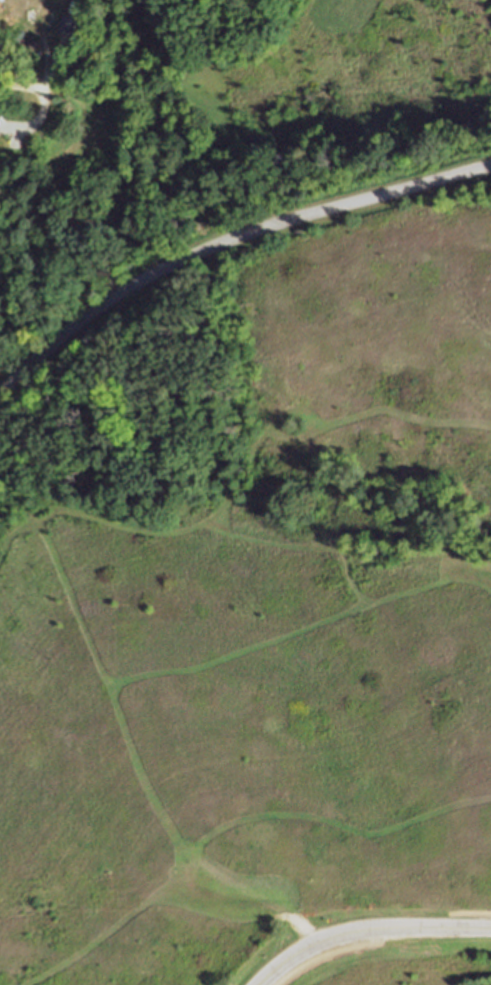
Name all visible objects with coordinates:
building: (65, 27)
road: (54, 67)
road: (226, 241)
road: (366, 930)

